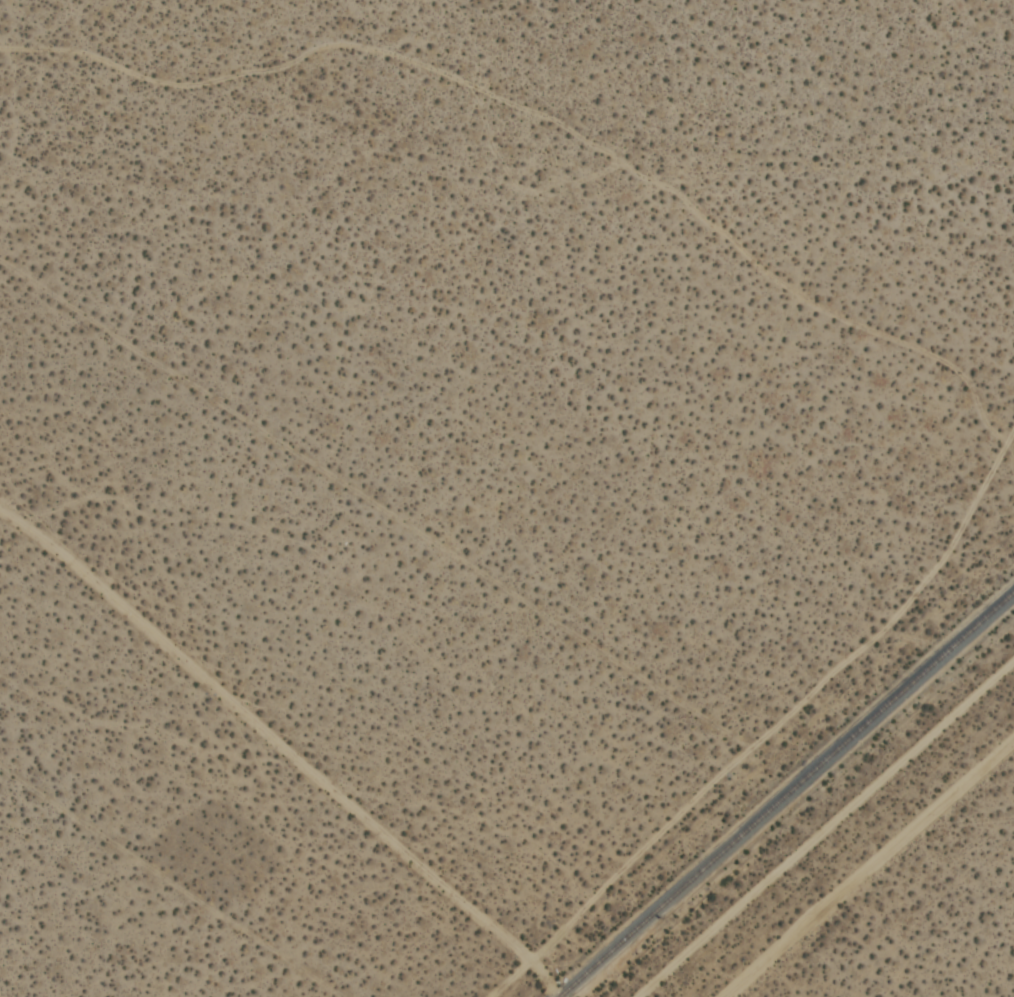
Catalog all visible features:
railway: (788, 795)

